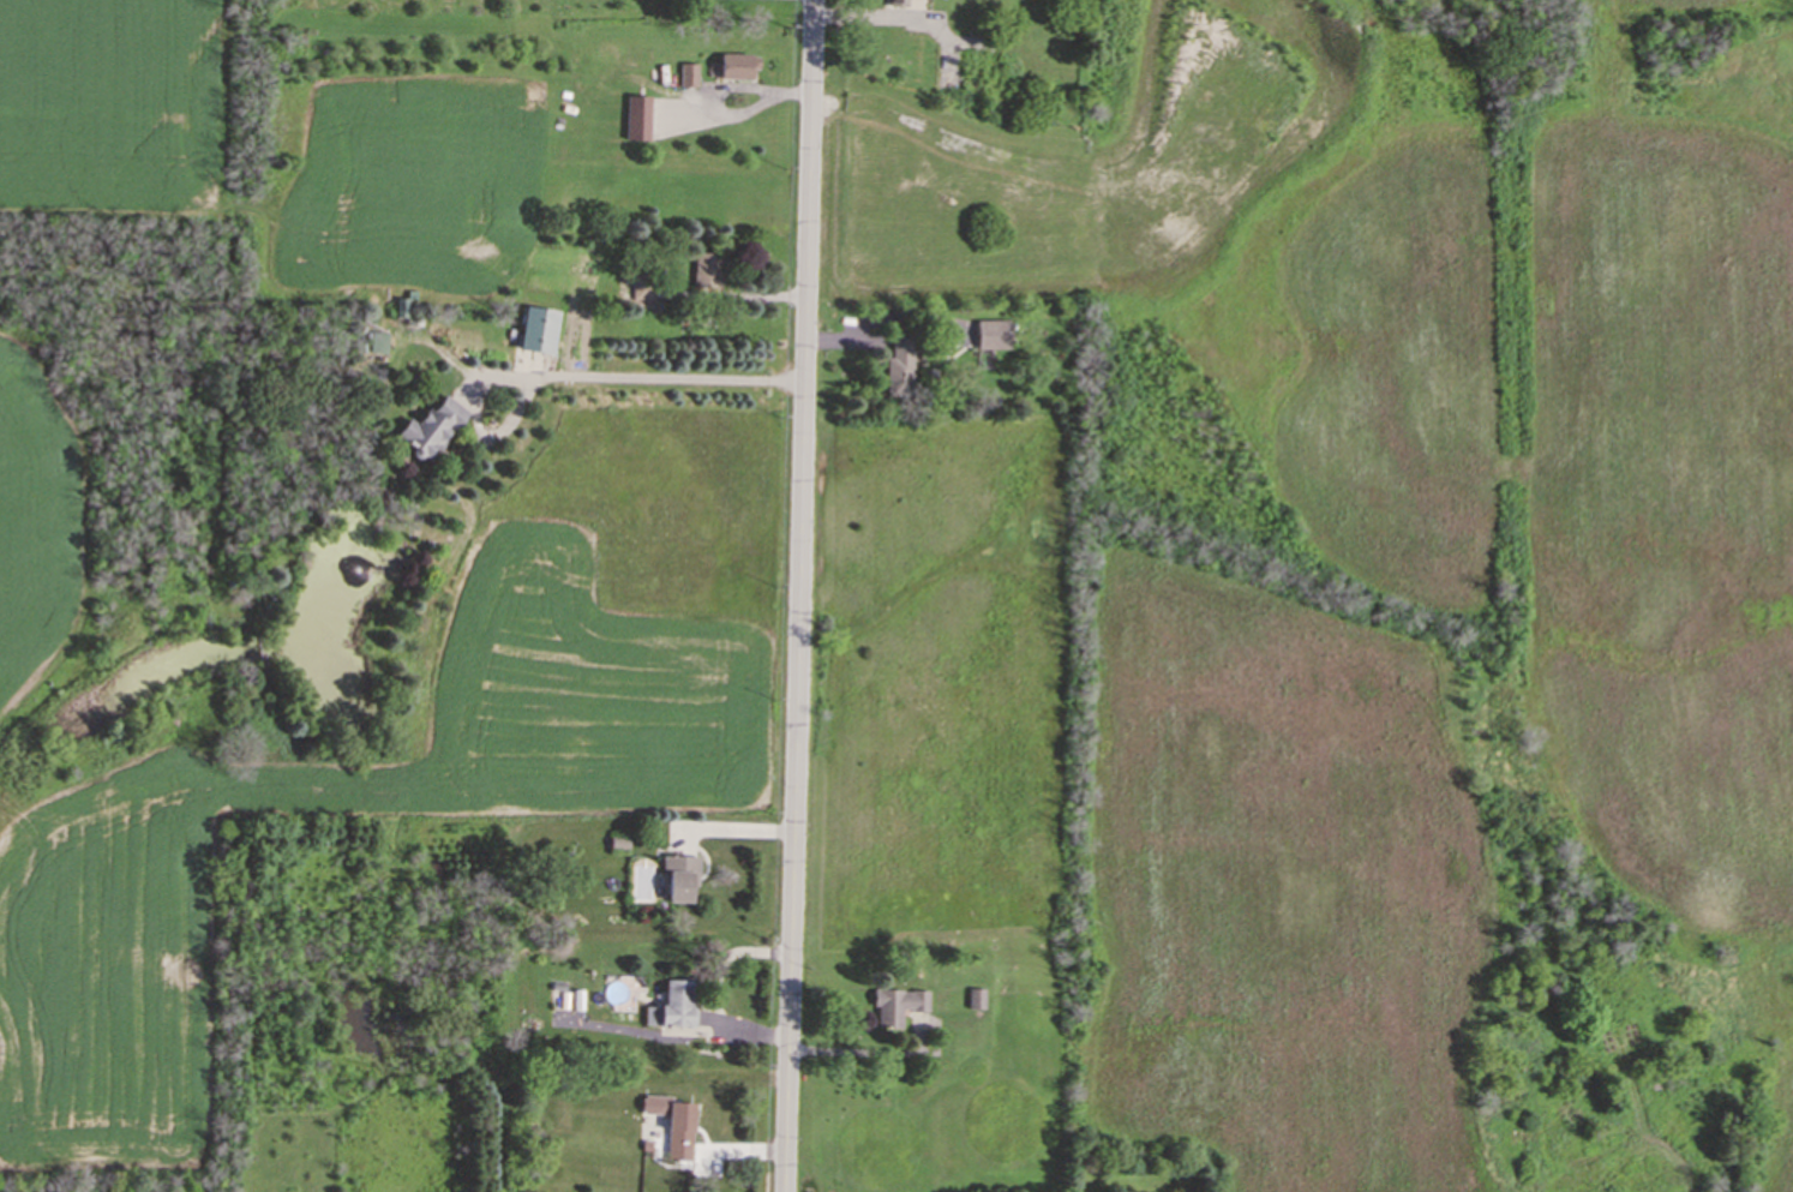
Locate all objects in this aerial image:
building: (895, 2)
building: (736, 65)
building: (686, 73)
road: (716, 88)
building: (636, 116)
building: (704, 271)
building: (640, 286)
road: (730, 295)
building: (535, 329)
building: (991, 333)
building: (376, 342)
building: (899, 366)
road: (571, 375)
building: (430, 427)
crop: (114, 579)
road: (798, 595)
crop: (1439, 595)
building: (678, 875)
building: (973, 998)
building: (895, 1004)
building: (670, 1005)
building: (671, 1124)

